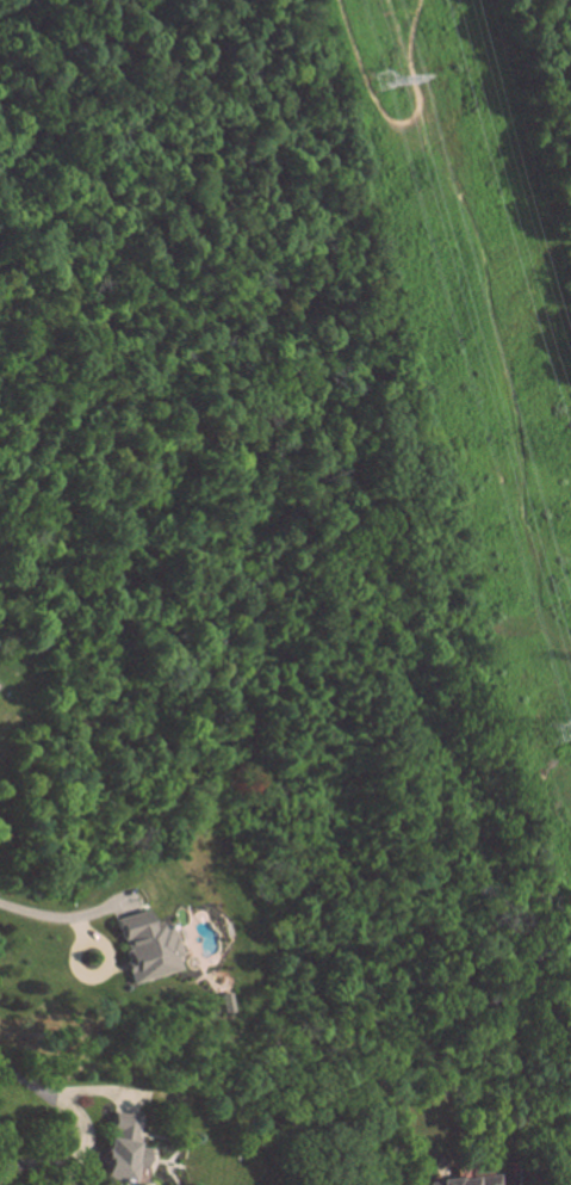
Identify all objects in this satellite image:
power tower: (383, 80)
power tower: (564, 732)
road: (54, 915)
building: (145, 946)
road: (54, 1097)
building: (125, 1147)
road: (45, 1161)
building: (467, 1180)

